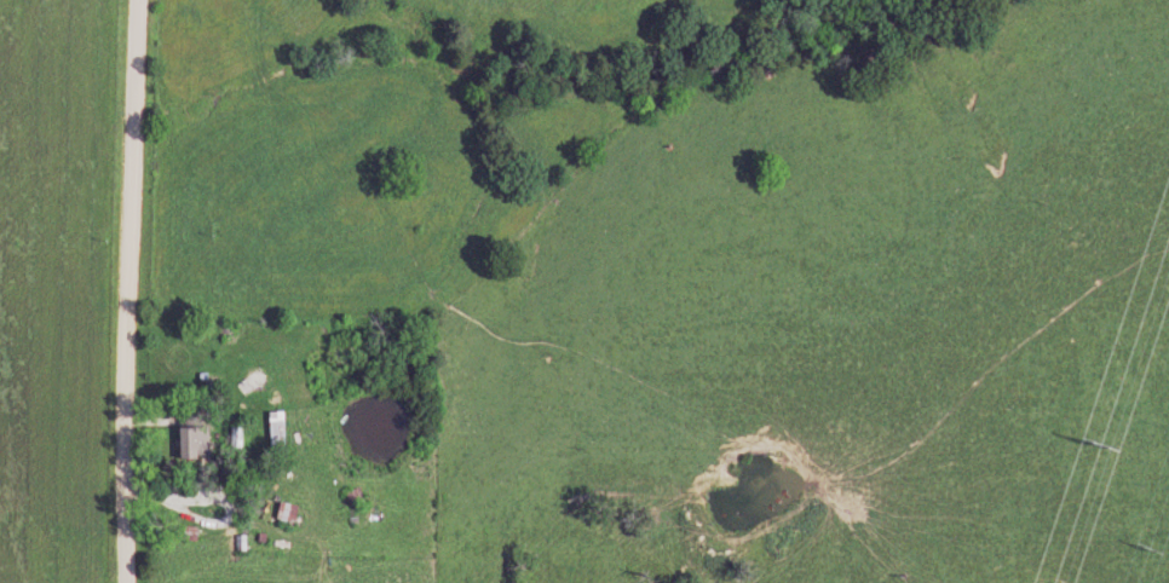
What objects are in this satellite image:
road: (125, 291)
building: (295, 386)
building: (271, 435)
building: (190, 439)
power tower: (1096, 443)
building: (283, 512)

